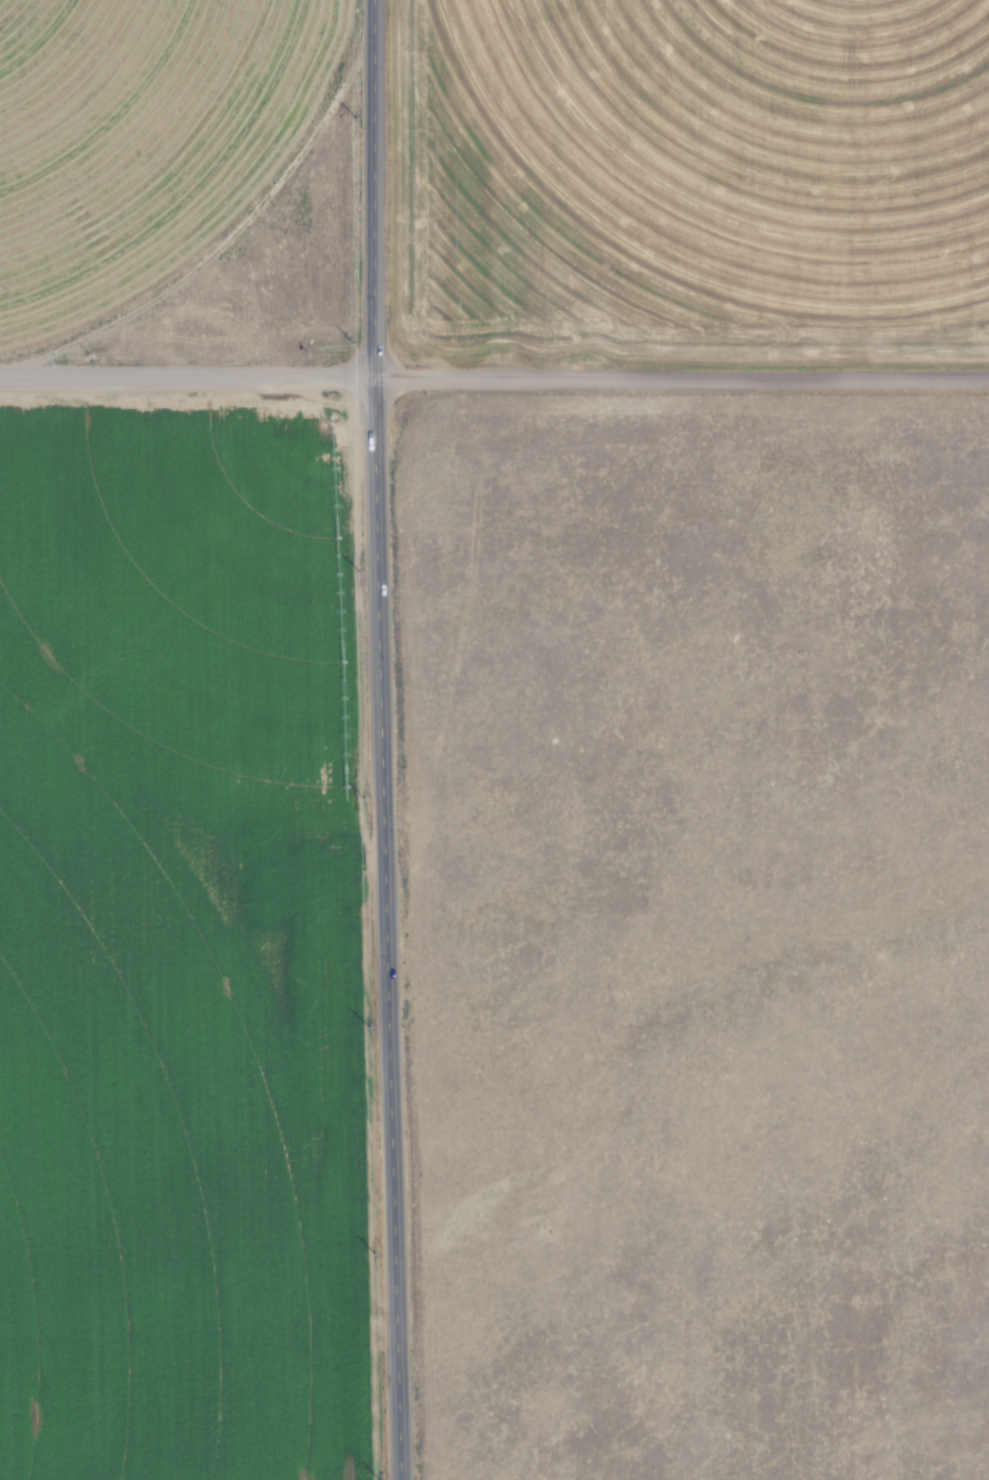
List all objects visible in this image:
road: (494, 377)
road: (380, 740)

